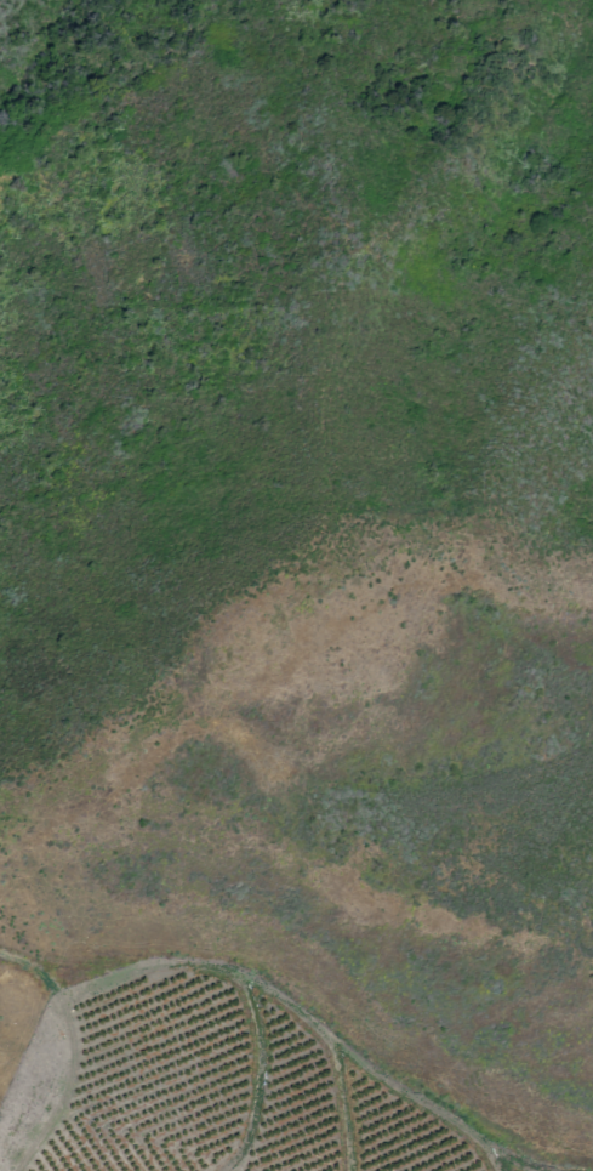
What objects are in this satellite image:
road: (302, 1021)
road: (68, 1056)
road: (256, 1076)
road: (338, 1110)
road: (485, 1156)

